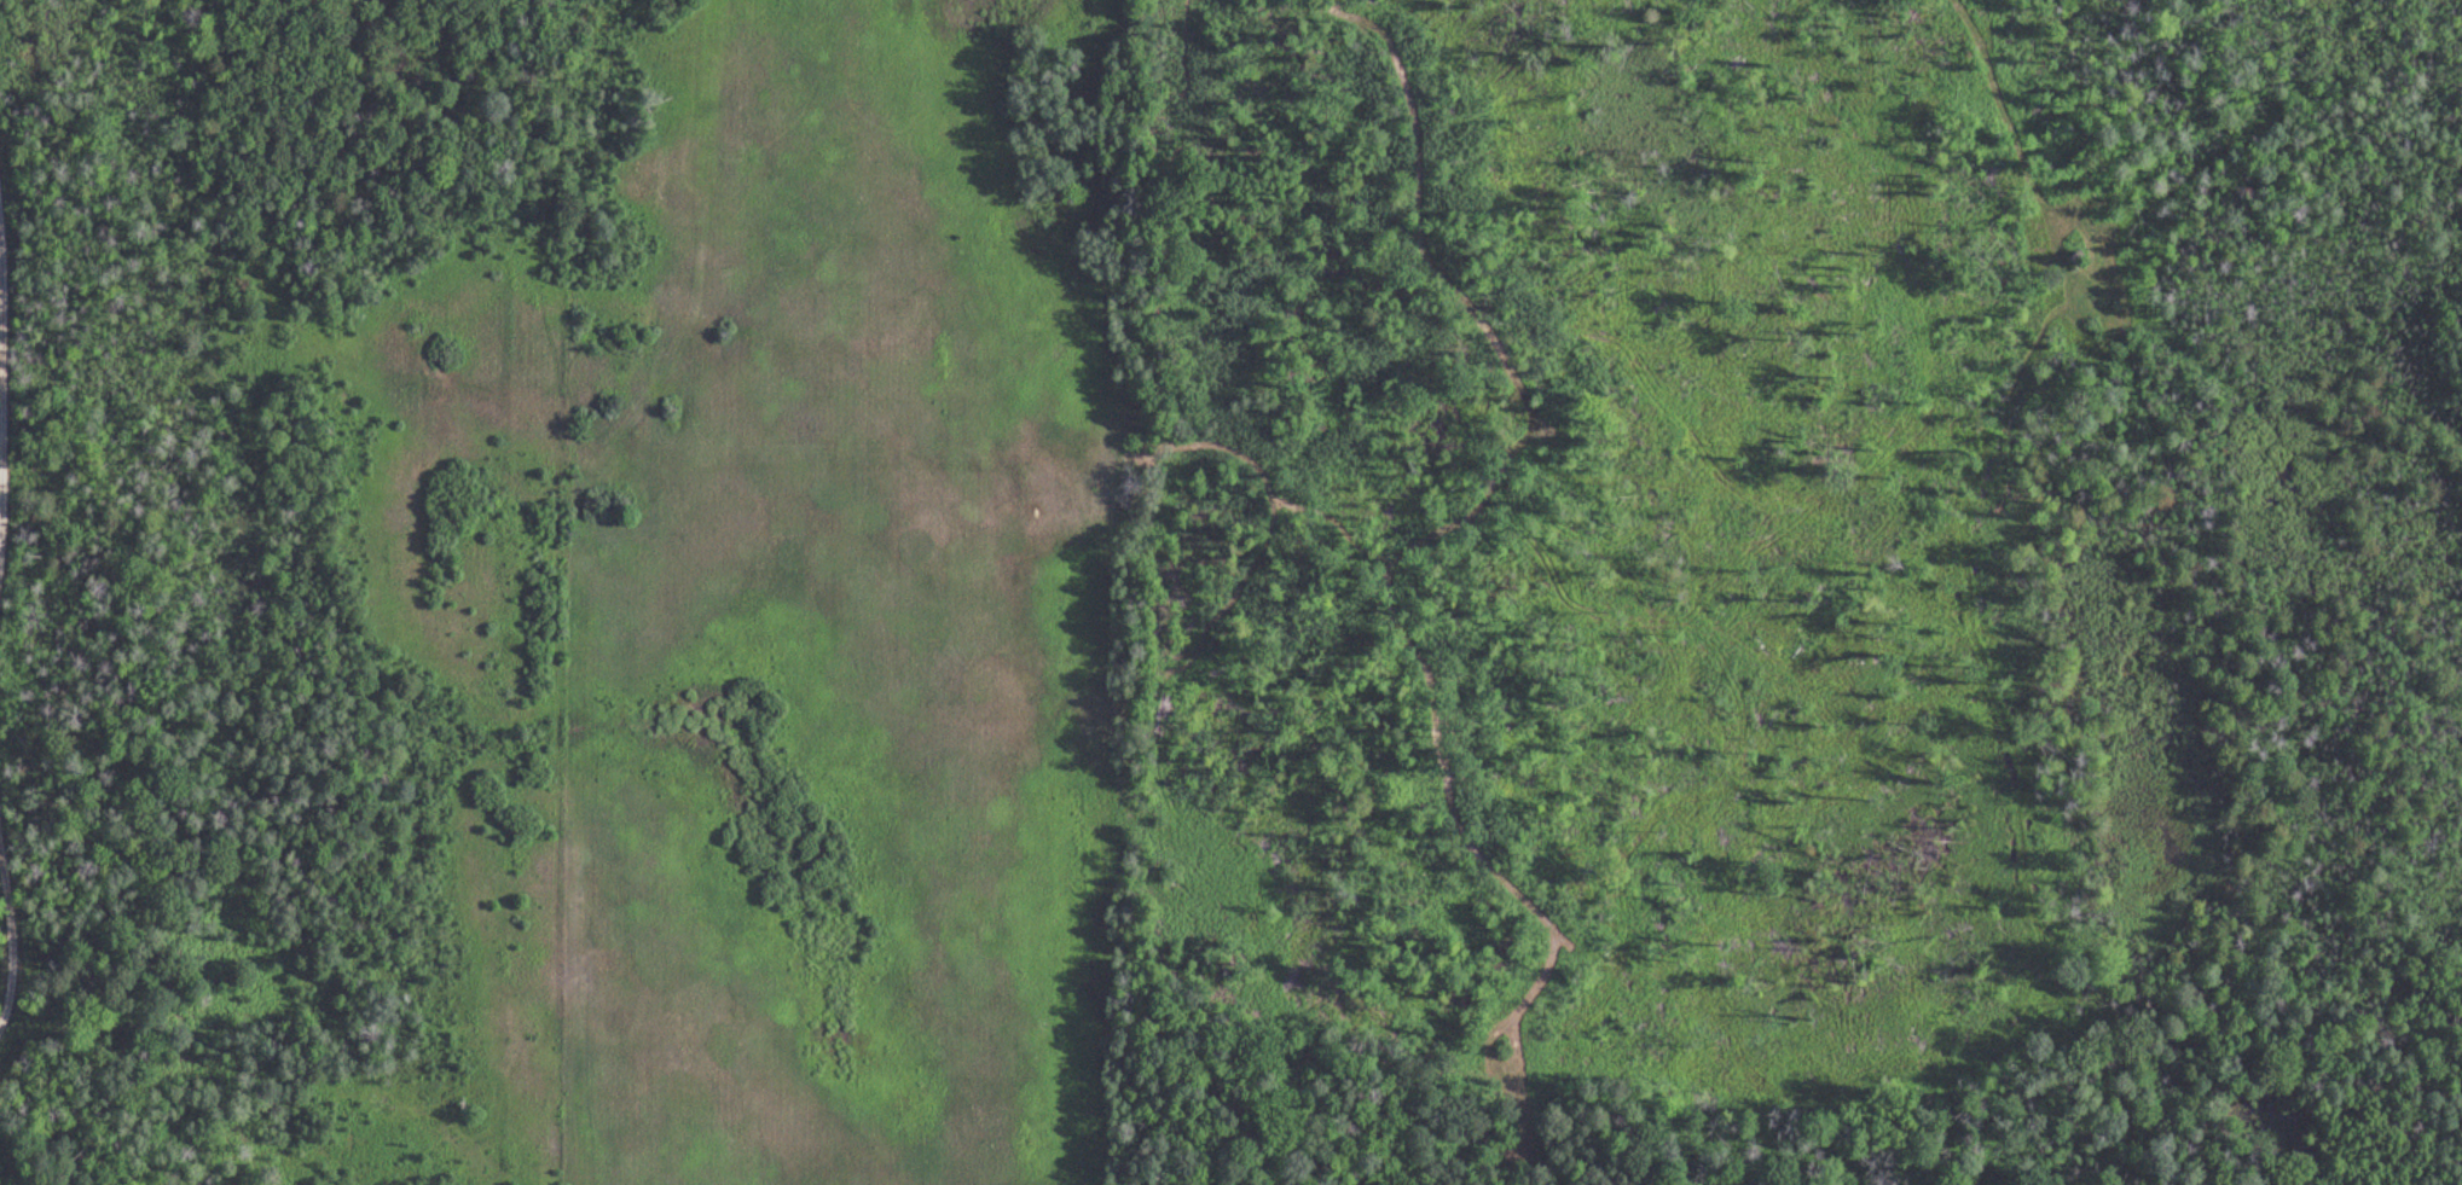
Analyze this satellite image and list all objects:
road: (0, 379)
road: (7, 941)

